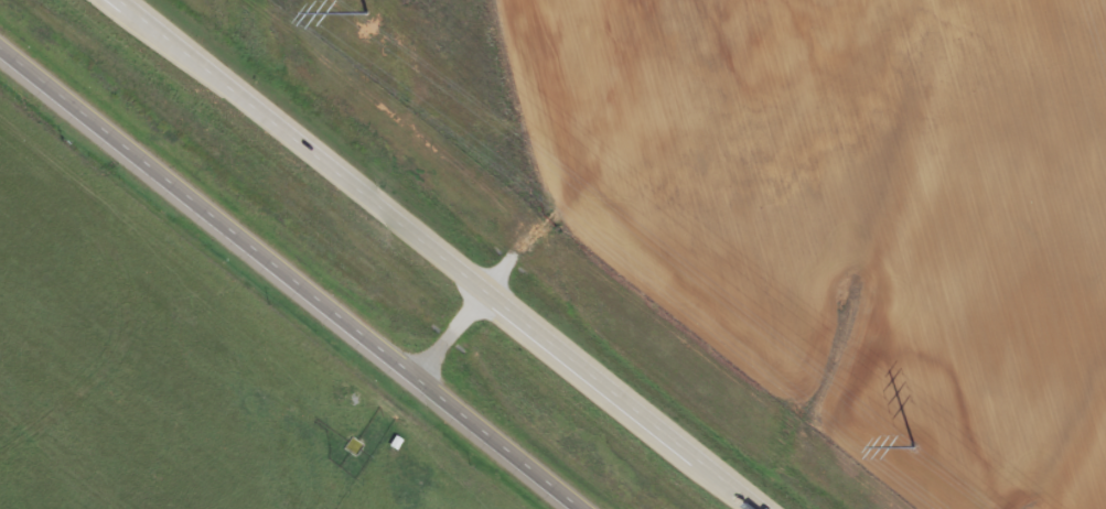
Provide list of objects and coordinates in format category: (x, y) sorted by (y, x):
power tower: (366, 11)
road: (441, 254)
road: (290, 277)
power tower: (914, 444)

